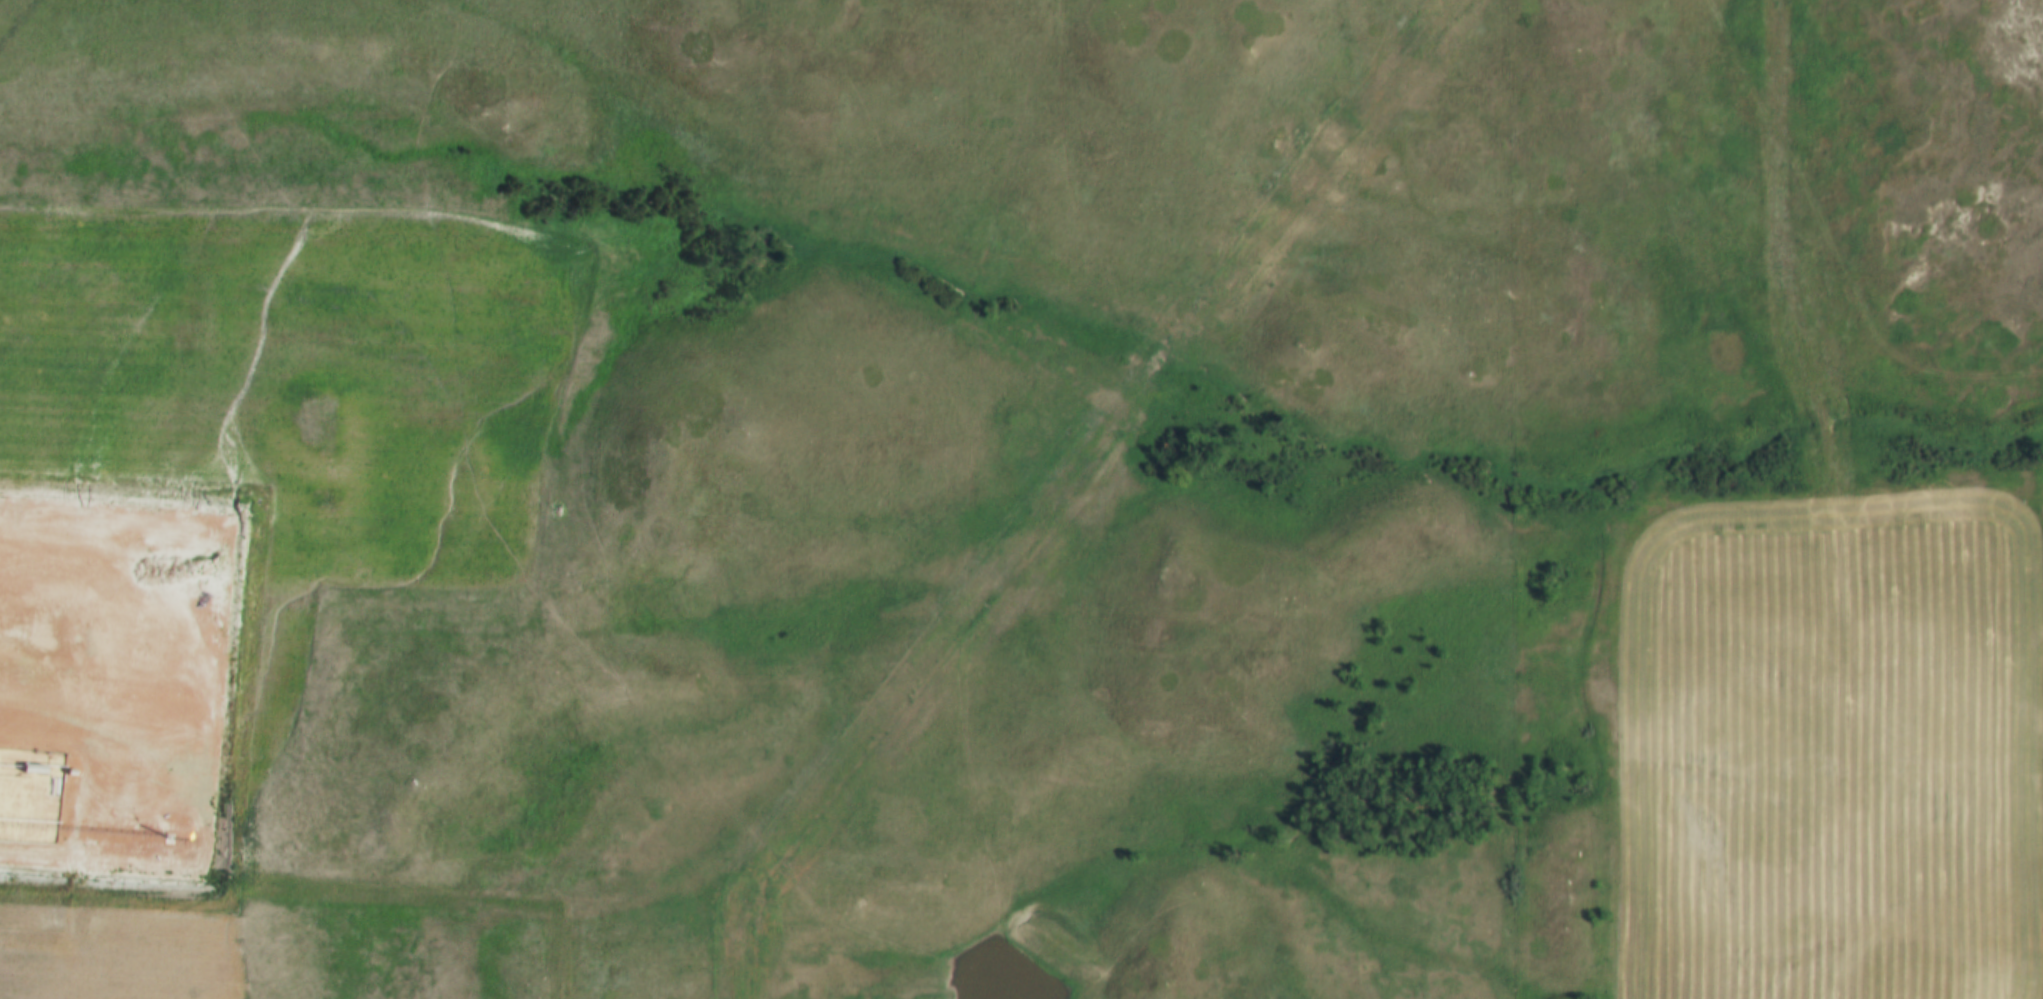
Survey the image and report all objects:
road: (1831, 248)

